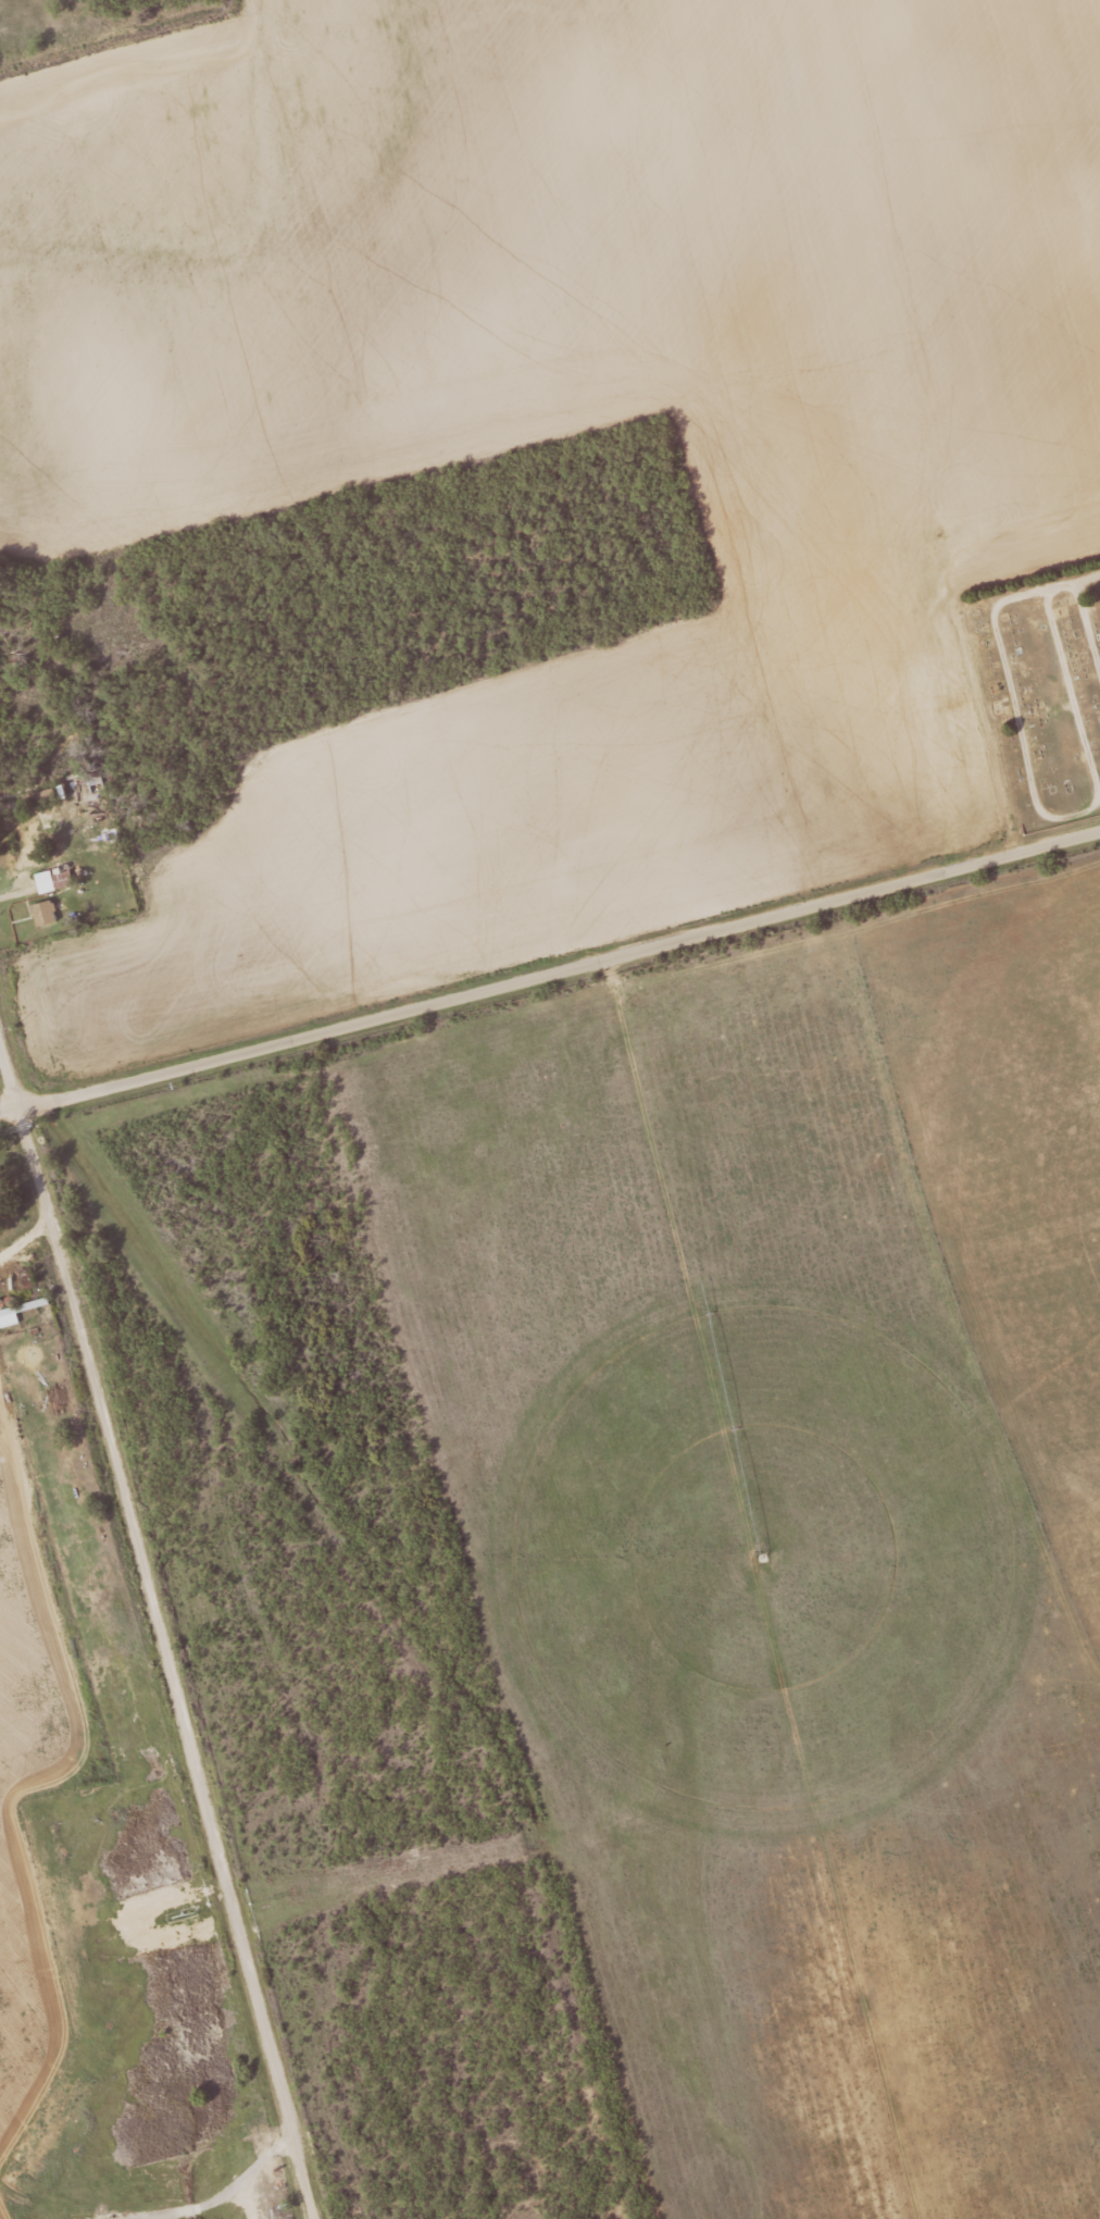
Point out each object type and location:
park: (1042, 685)
building: (47, 796)
building: (48, 830)
building: (43, 880)
building: (42, 908)
road: (560, 969)
road: (10, 1067)
road: (10, 1112)
building: (22, 1311)
road: (168, 1664)

